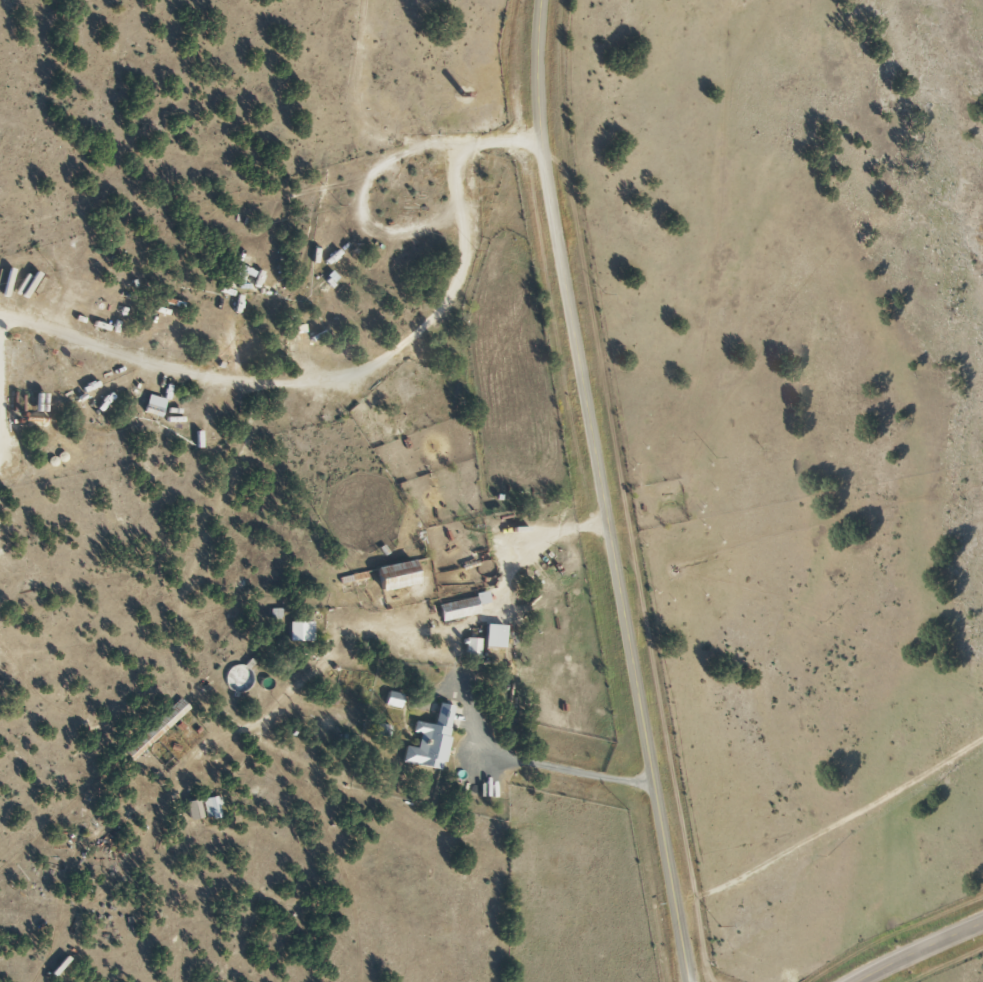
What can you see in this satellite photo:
road: (343, 375)
road: (602, 492)
road: (441, 522)
building: (394, 576)
building: (458, 608)
building: (298, 631)
building: (491, 637)
building: (472, 649)
building: (237, 679)
building: (390, 699)
building: (153, 729)
building: (428, 740)
building: (209, 808)
building: (190, 810)
road: (925, 951)

